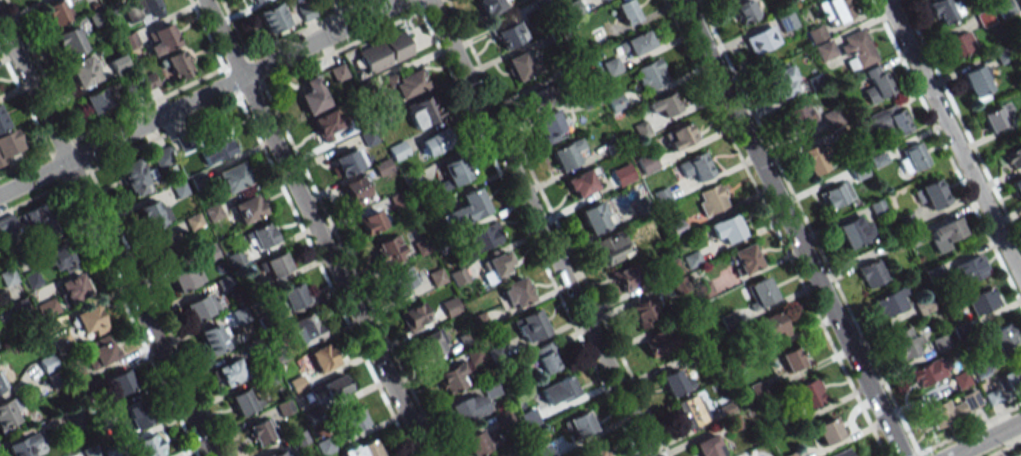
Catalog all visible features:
building: (252, 0)
building: (323, 0)
building: (1020, 0)
building: (491, 6)
building: (1004, 8)
building: (141, 9)
building: (836, 10)
building: (942, 10)
building: (626, 11)
building: (744, 11)
building: (58, 12)
building: (273, 17)
building: (985, 17)
building: (97, 18)
building: (786, 21)
building: (509, 34)
building: (162, 38)
building: (760, 40)
building: (69, 42)
building: (636, 43)
building: (960, 43)
building: (856, 49)
building: (383, 52)
building: (177, 64)
building: (119, 65)
building: (519, 66)
building: (83, 71)
building: (650, 74)
building: (781, 82)
building: (405, 83)
building: (877, 83)
building: (974, 84)
building: (312, 96)
road: (200, 97)
building: (536, 99)
building: (96, 101)
building: (616, 102)
building: (663, 104)
building: (422, 111)
building: (799, 115)
building: (993, 119)
building: (2, 122)
building: (888, 122)
road: (961, 122)
building: (326, 124)
building: (551, 125)
building: (678, 136)
building: (368, 137)
road: (954, 137)
building: (434, 143)
building: (8, 146)
building: (218, 150)
building: (397, 150)
road: (946, 152)
building: (565, 154)
building: (915, 156)
building: (161, 157)
building: (1012, 157)
building: (815, 159)
building: (348, 161)
building: (696, 166)
building: (453, 173)
building: (134, 177)
building: (231, 177)
building: (580, 183)
building: (1017, 188)
building: (356, 190)
building: (836, 194)
building: (931, 194)
building: (710, 199)
building: (468, 207)
building: (247, 208)
building: (153, 214)
building: (595, 216)
building: (29, 221)
building: (370, 221)
road: (313, 228)
road: (540, 228)
road: (790, 228)
road: (808, 228)
building: (725, 229)
building: (854, 231)
building: (946, 234)
building: (260, 237)
building: (481, 238)
road: (104, 239)
building: (169, 245)
building: (611, 247)
building: (388, 250)
building: (56, 257)
building: (744, 259)
building: (276, 264)
building: (496, 264)
building: (970, 268)
building: (870, 273)
building: (7, 277)
building: (185, 277)
building: (627, 277)
building: (402, 278)
building: (73, 287)
building: (516, 292)
building: (760, 292)
building: (292, 297)
building: (982, 301)
building: (890, 302)
building: (450, 306)
building: (197, 308)
building: (643, 312)
building: (414, 317)
building: (90, 321)
building: (529, 326)
building: (771, 326)
building: (303, 330)
building: (1001, 335)
building: (210, 340)
building: (907, 342)
building: (940, 342)
building: (432, 343)
building: (658, 347)
building: (101, 350)
building: (322, 357)
building: (546, 358)
building: (791, 359)
building: (46, 363)
building: (231, 371)
building: (929, 372)
building: (451, 378)
building: (1012, 379)
building: (119, 382)
building: (675, 383)
building: (296, 384)
building: (1, 385)
building: (334, 386)
building: (557, 391)
building: (810, 393)
building: (994, 396)
building: (244, 401)
building: (467, 408)
building: (953, 408)
building: (690, 410)
building: (10, 411)
building: (135, 414)
building: (352, 420)
building: (580, 424)
road: (968, 429)
building: (262, 431)
building: (827, 431)
road: (985, 438)
building: (478, 443)
building: (22, 445)
building: (148, 446)
building: (324, 446)
building: (708, 446)
building: (552, 448)
road: (1005, 448)
building: (363, 449)
building: (279, 452)
building: (597, 452)
building: (842, 452)
building: (505, 455)
road: (1020, 455)

